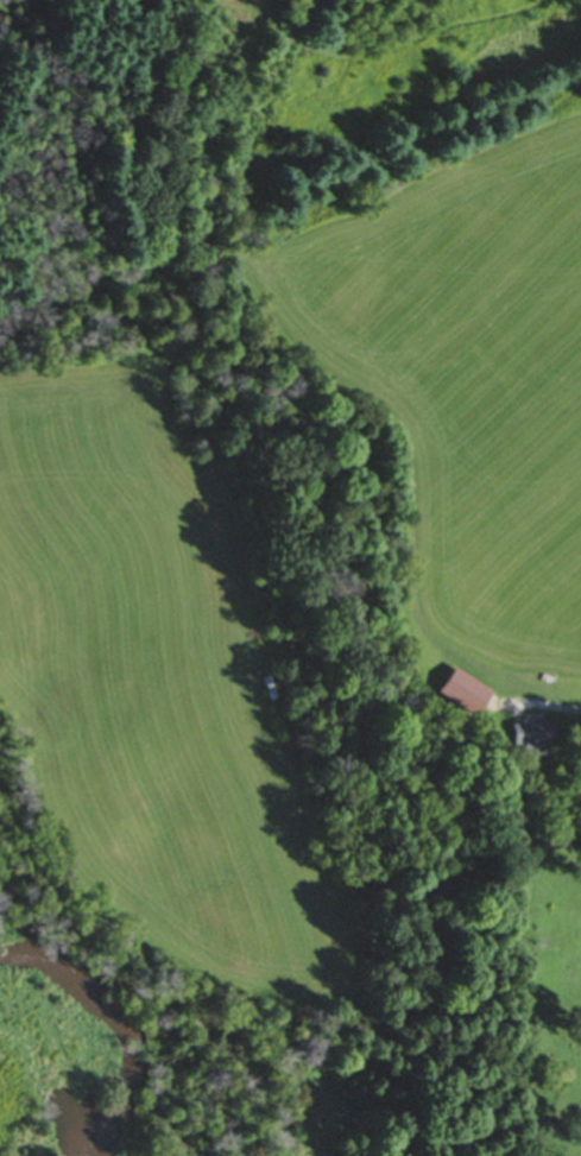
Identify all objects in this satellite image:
road: (555, 707)
river: (119, 1023)

